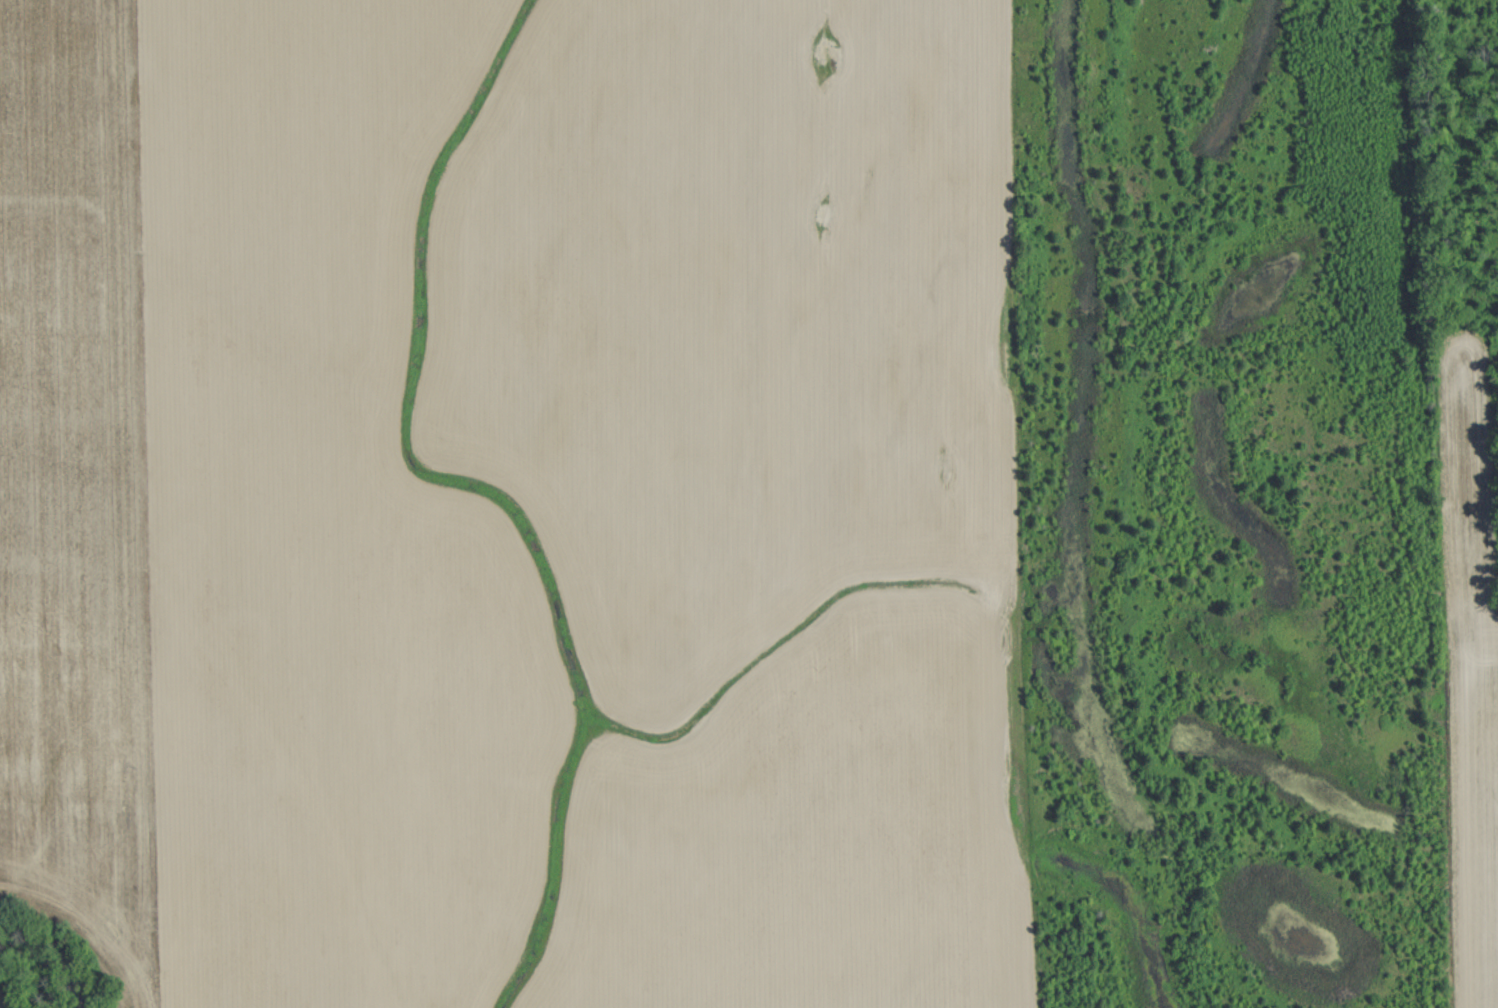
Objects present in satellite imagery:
river: (37, 969)

